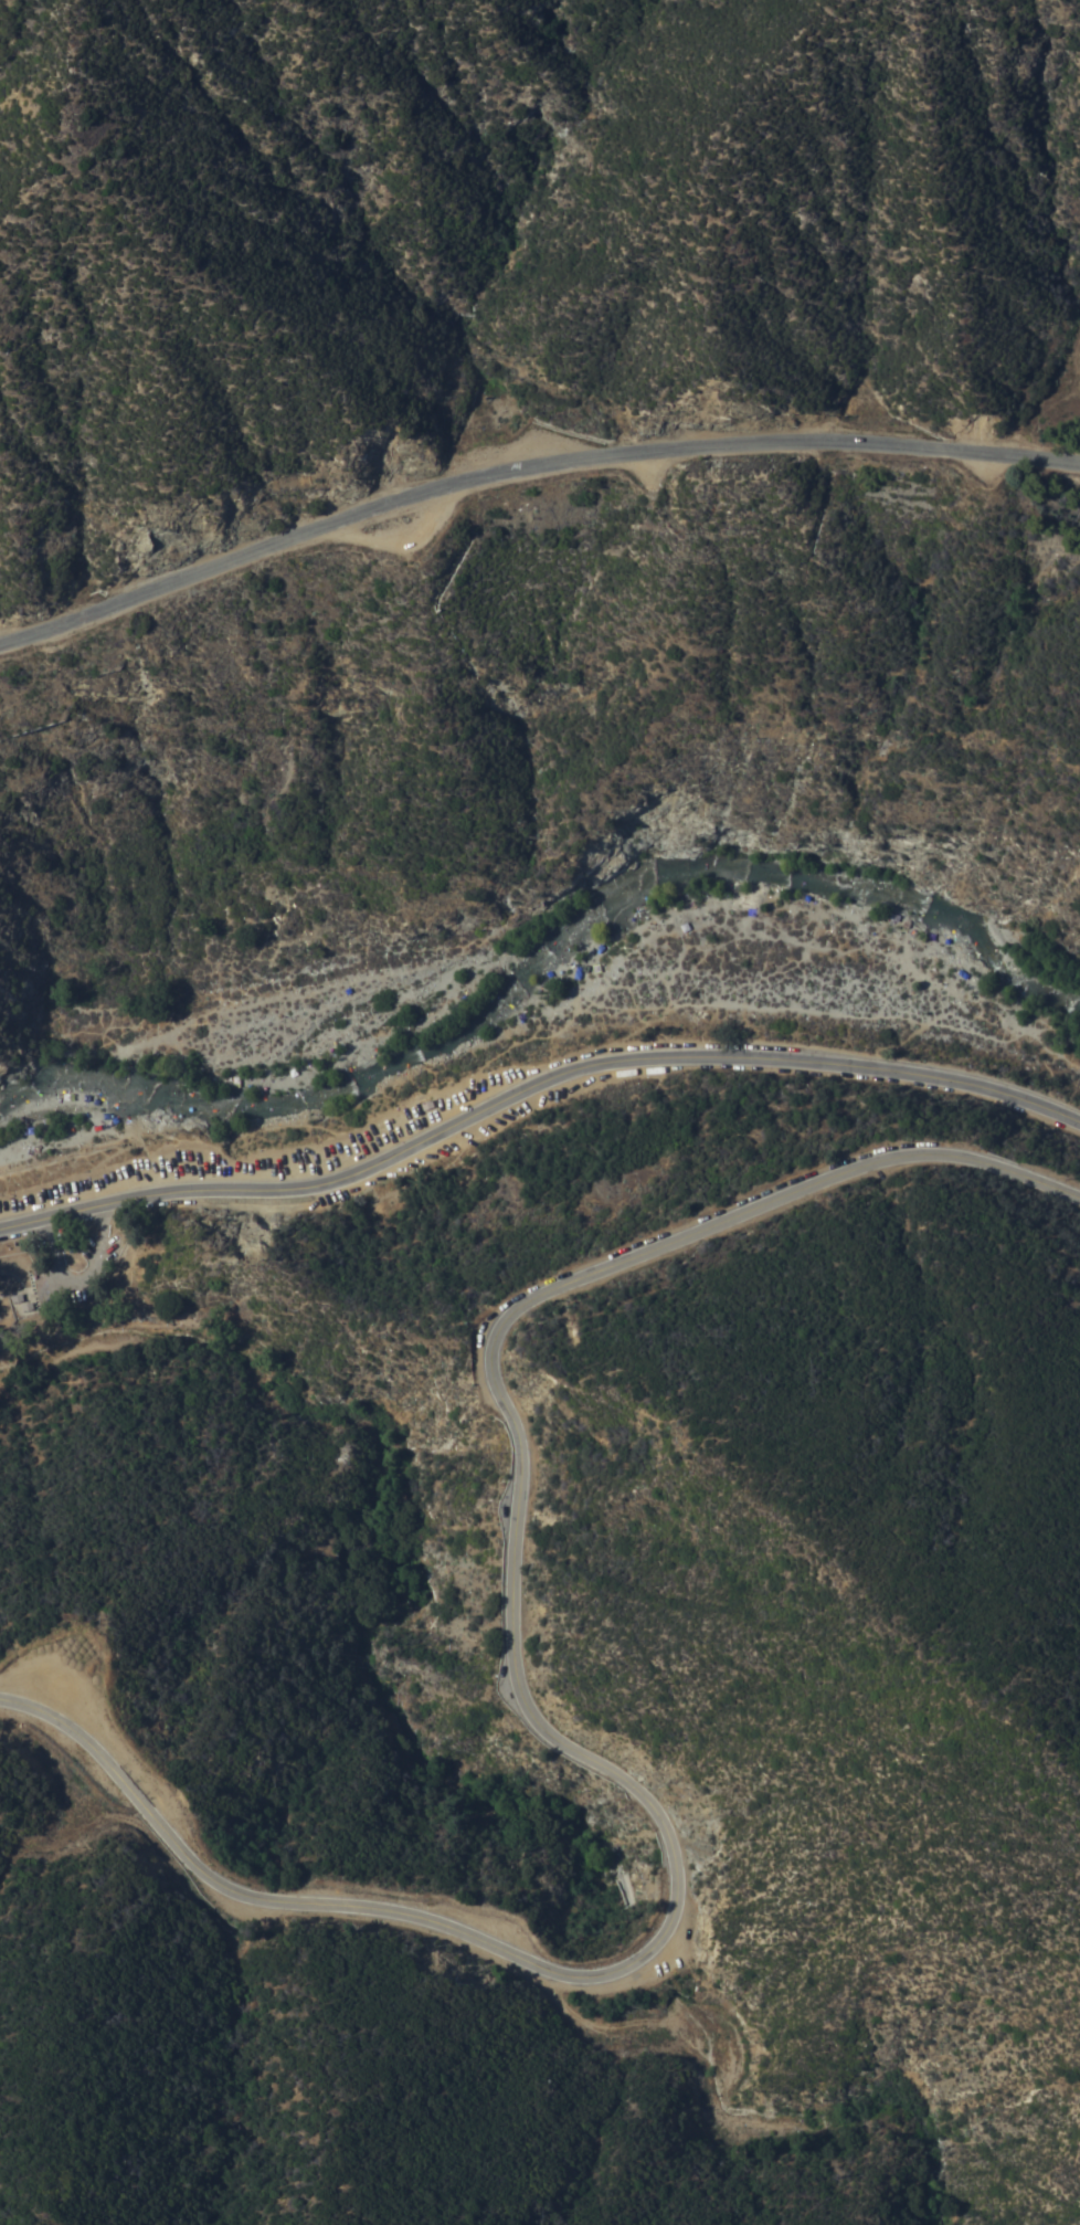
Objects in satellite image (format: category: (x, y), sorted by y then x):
road: (526, 467)
river: (544, 963)
road: (532, 1085)
parking lot: (271, 1152)
parking lot: (86, 1270)
road: (80, 1286)
parking lot: (65, 1691)
road: (540, 1726)
parking lot: (462, 1925)

